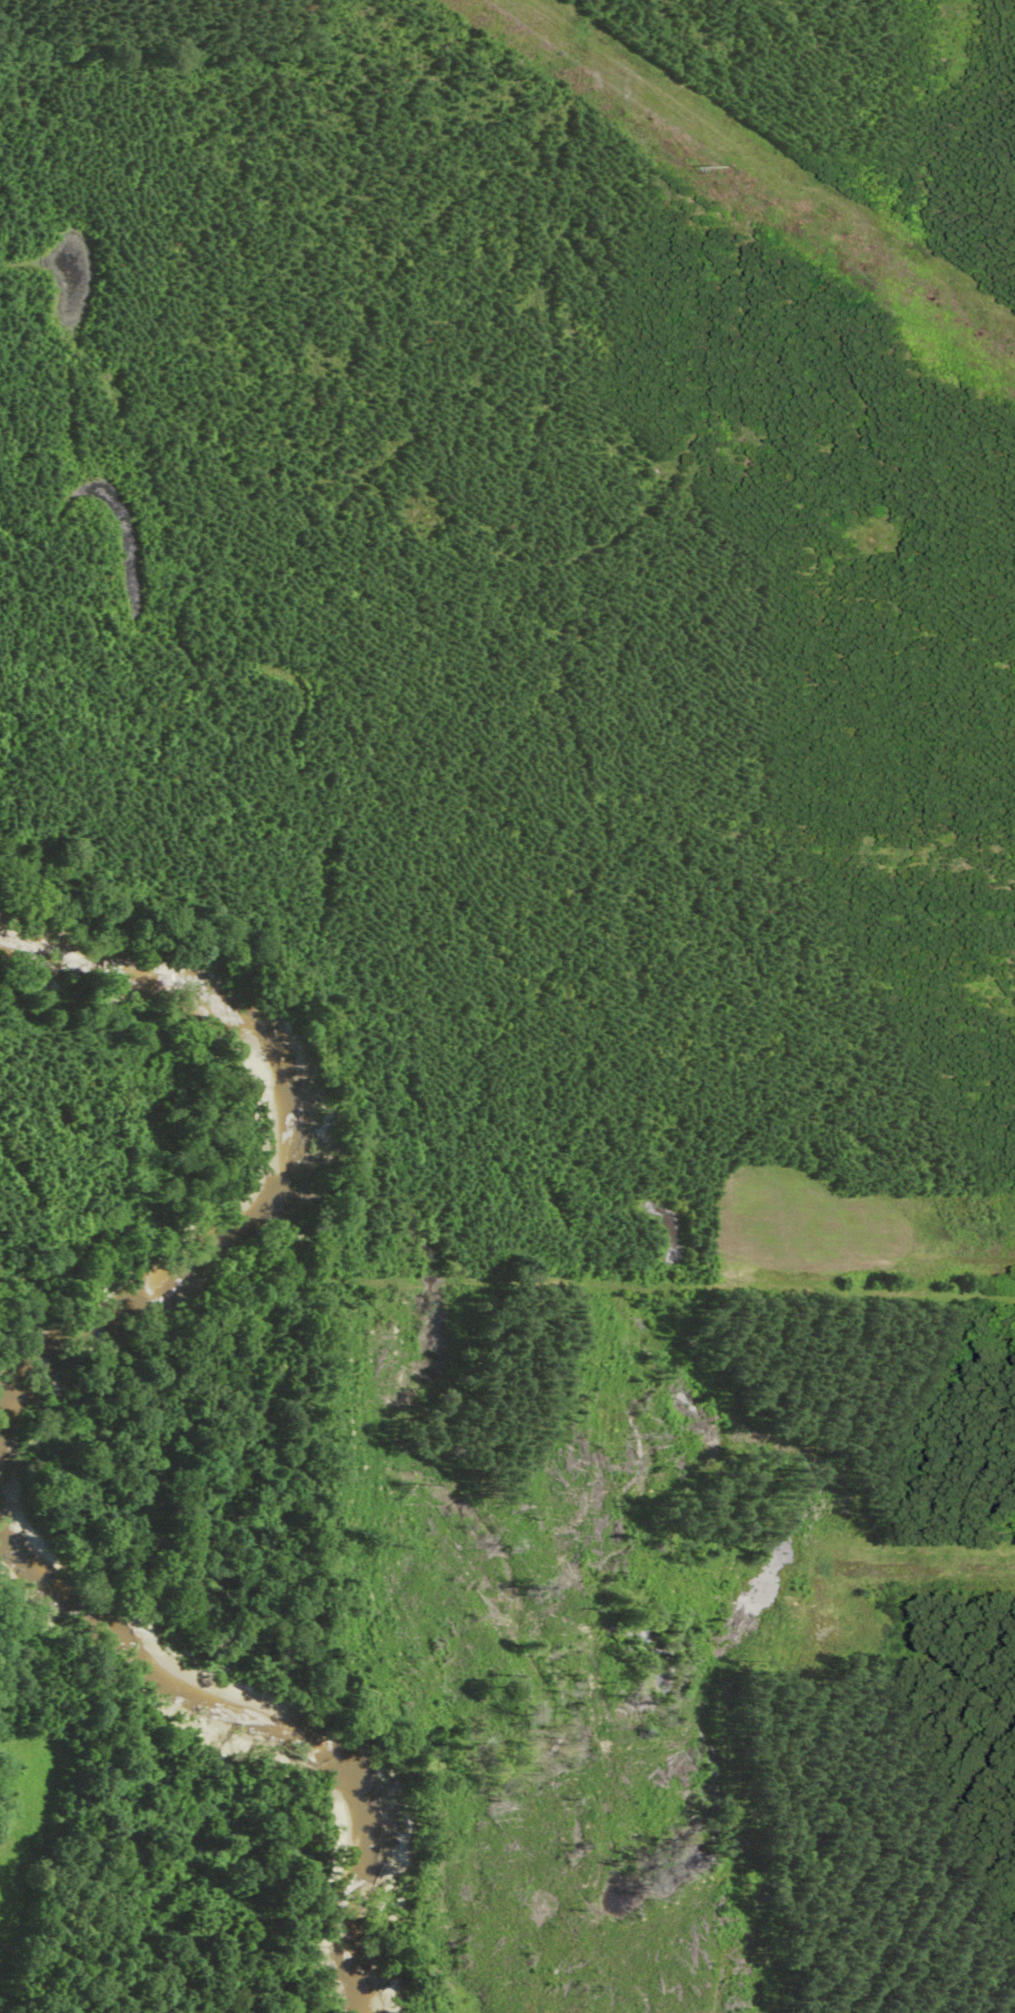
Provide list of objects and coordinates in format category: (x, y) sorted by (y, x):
river: (289, 1156)
river: (267, 1704)

